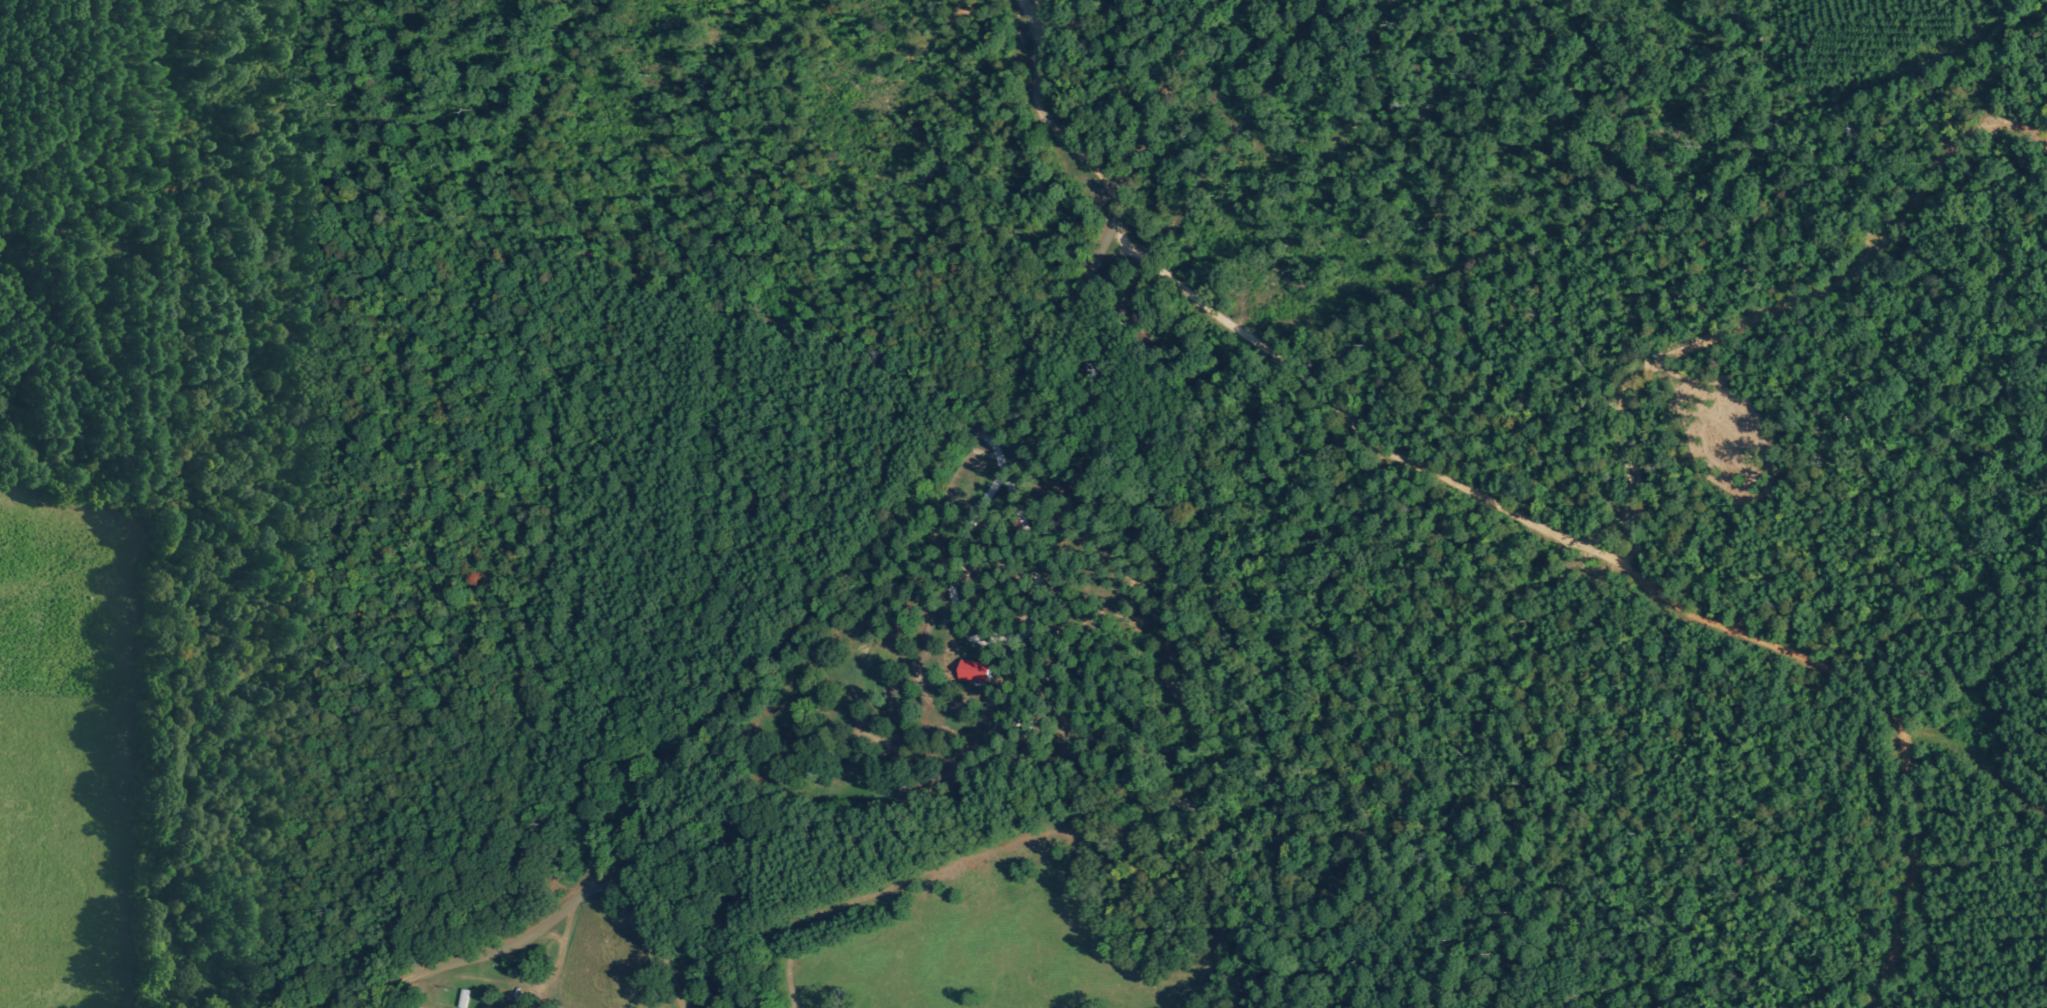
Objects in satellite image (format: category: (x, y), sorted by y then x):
road: (143, 511)
road: (853, 568)
building: (972, 671)
road: (652, 927)

